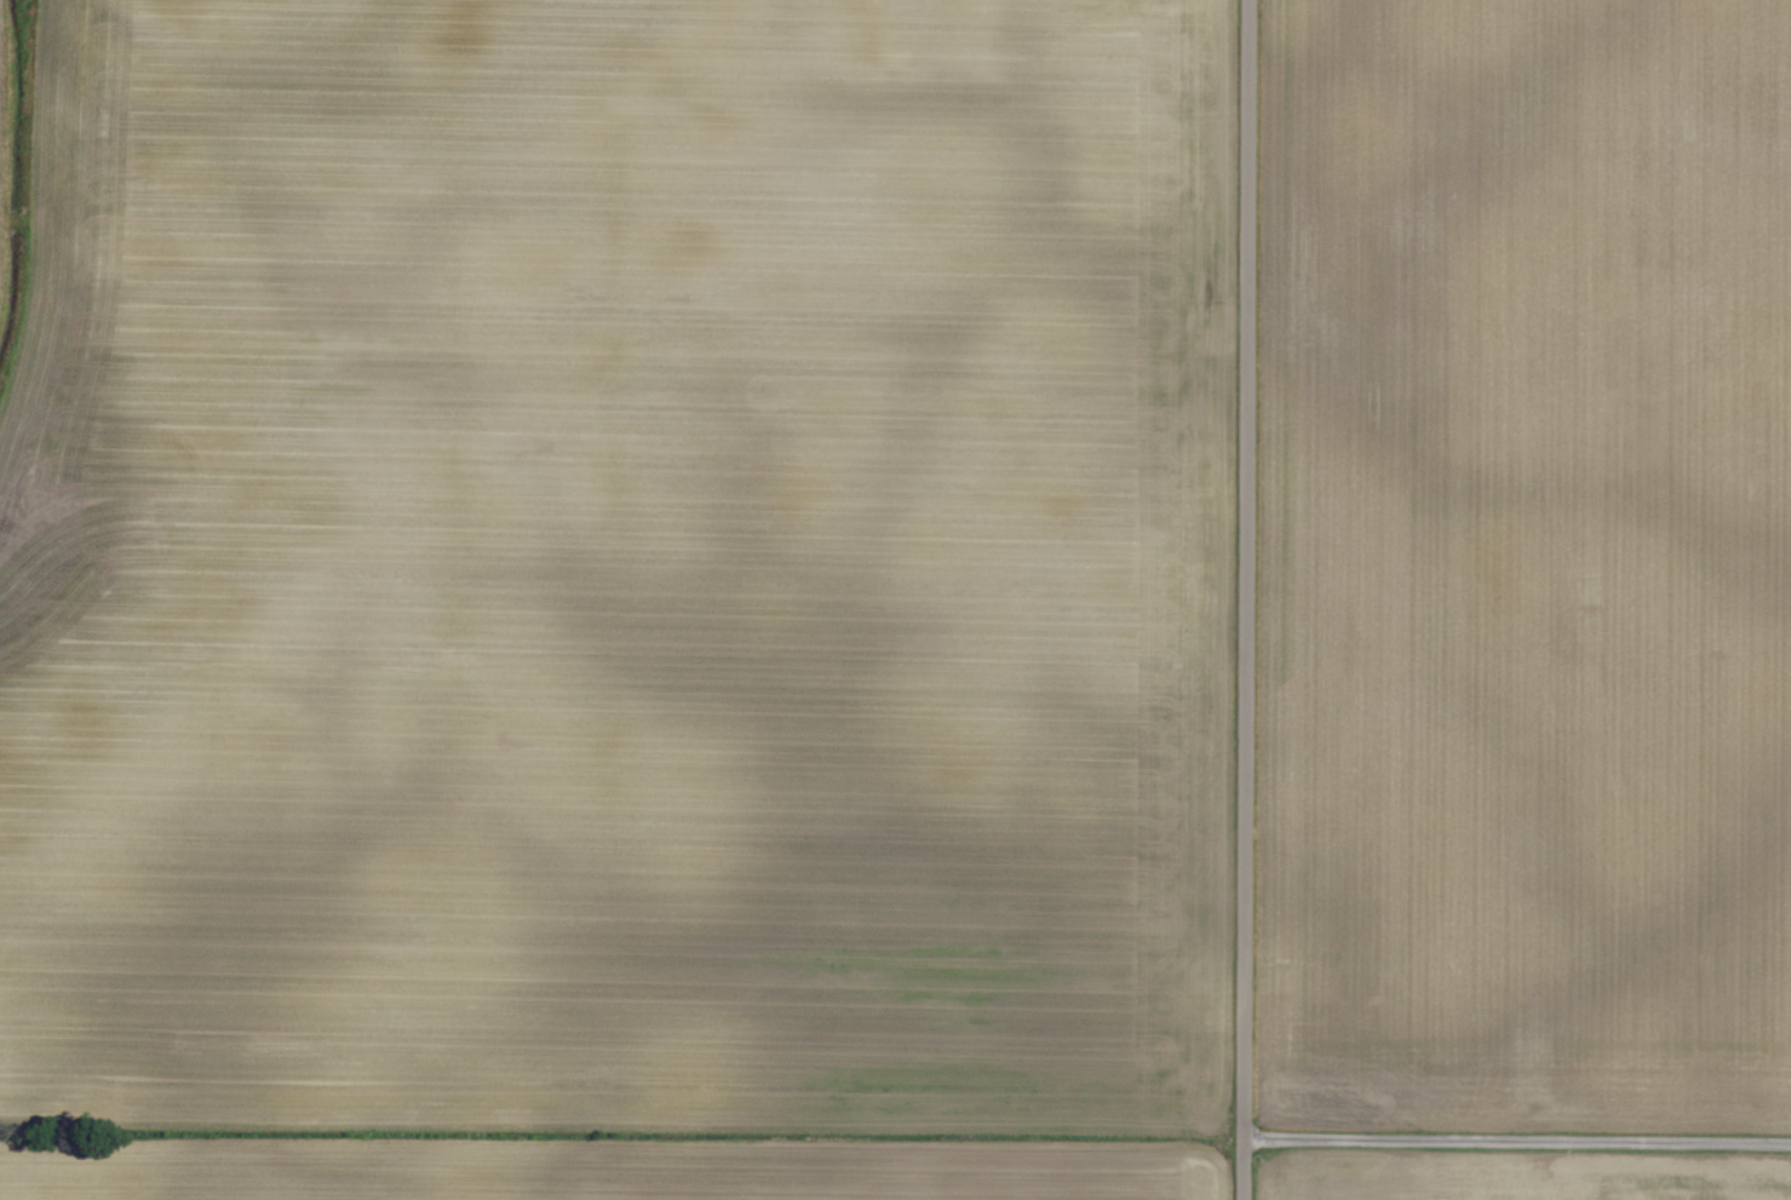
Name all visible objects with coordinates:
road: (1248, 599)
road: (1519, 1138)

